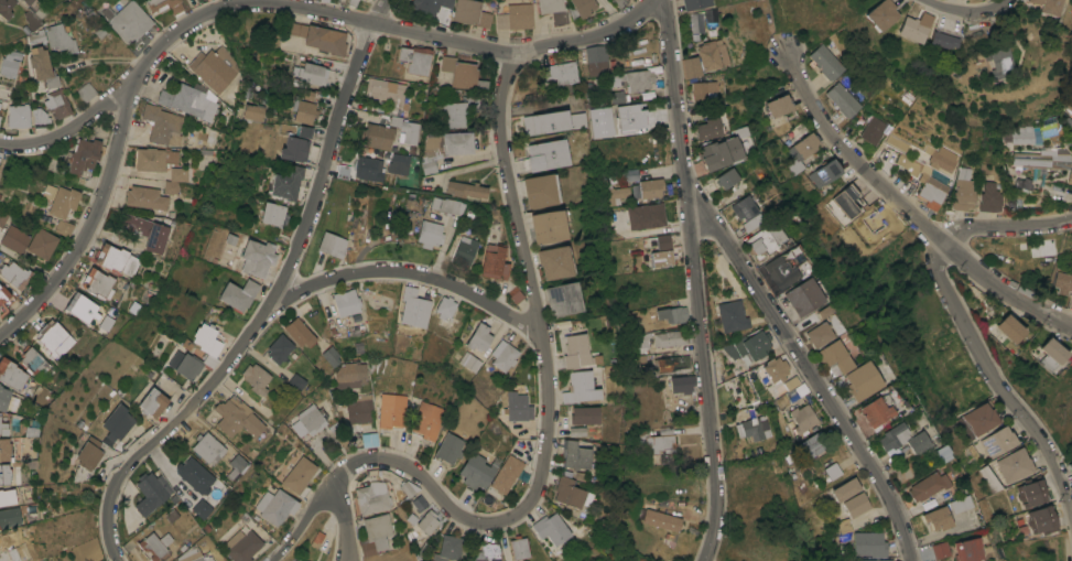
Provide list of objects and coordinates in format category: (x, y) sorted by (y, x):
building: (366, 0)
building: (25, 1)
building: (353, 2)
building: (694, 3)
building: (165, 4)
building: (1048, 6)
building: (429, 7)
building: (584, 7)
building: (6, 8)
building: (554, 10)
road: (970, 11)
road: (310, 12)
building: (472, 13)
building: (882, 14)
building: (516, 17)
building: (126, 20)
building: (31, 21)
building: (694, 23)
road: (787, 25)
building: (914, 26)
building: (36, 36)
building: (320, 37)
building: (59, 39)
building: (941, 39)
building: (710, 54)
building: (415, 60)
building: (596, 60)
building: (826, 62)
building: (1000, 62)
building: (10, 63)
building: (42, 66)
building: (690, 66)
building: (214, 68)
building: (459, 72)
building: (311, 73)
building: (562, 73)
building: (635, 79)
building: (704, 89)
building: (86, 91)
building: (388, 93)
building: (619, 96)
building: (843, 99)
building: (188, 101)
building: (56, 103)
building: (779, 105)
building: (304, 107)
building: (1070, 107)
building: (253, 111)
building: (458, 111)
building: (18, 116)
building: (39, 117)
building: (0, 118)
building: (578, 120)
building: (546, 122)
building: (162, 125)
building: (405, 129)
building: (707, 129)
building: (874, 130)
building: (303, 131)
building: (740, 131)
building: (1020, 134)
building: (377, 136)
building: (443, 148)
building: (294, 149)
building: (802, 151)
building: (718, 153)
building: (548, 154)
building: (84, 155)
building: (943, 158)
building: (154, 159)
building: (1042, 159)
building: (399, 163)
building: (910, 166)
building: (369, 169)
building: (825, 172)
building: (180, 174)
building: (629, 177)
building: (727, 177)
building: (1069, 179)
building: (288, 182)
building: (908, 184)
building: (1021, 184)
building: (171, 187)
building: (651, 187)
building: (465, 190)
building: (541, 190)
building: (963, 190)
building: (48, 191)
building: (932, 192)
building: (615, 194)
building: (147, 197)
building: (989, 197)
building: (847, 201)
building: (63, 202)
building: (447, 205)
building: (745, 207)
road: (909, 208)
building: (273, 214)
building: (643, 216)
building: (2, 217)
road: (88, 225)
building: (549, 226)
road: (1006, 226)
building: (64, 227)
building: (147, 231)
building: (430, 234)
building: (14, 238)
building: (230, 239)
building: (765, 240)
building: (663, 241)
building: (42, 244)
building: (332, 245)
building: (465, 250)
building: (257, 257)
building: (662, 258)
building: (117, 259)
building: (556, 261)
building: (494, 262)
road: (403, 270)
building: (780, 271)
building: (14, 274)
road: (695, 280)
building: (97, 282)
building: (1063, 282)
building: (424, 291)
building: (3, 294)
building: (238, 294)
building: (515, 294)
building: (803, 296)
building: (563, 299)
road: (269, 300)
building: (346, 302)
building: (444, 306)
building: (83, 308)
building: (411, 308)
building: (1, 310)
building: (824, 311)
building: (672, 314)
building: (732, 315)
building: (1011, 328)
building: (300, 332)
building: (819, 334)
building: (479, 337)
building: (671, 337)
building: (54, 338)
building: (206, 338)
building: (645, 339)
building: (358, 347)
building: (747, 347)
building: (279, 348)
building: (576, 350)
building: (1053, 354)
building: (503, 355)
building: (331, 356)
building: (835, 357)
building: (34, 360)
building: (208, 360)
building: (469, 362)
building: (673, 364)
building: (184, 365)
building: (647, 370)
building: (772, 370)
road: (811, 370)
building: (351, 374)
building: (12, 375)
building: (256, 378)
building: (863, 380)
building: (295, 382)
road: (997, 382)
building: (683, 384)
building: (580, 387)
building: (783, 387)
road: (546, 390)
building: (4, 398)
building: (153, 403)
building: (357, 407)
building: (517, 407)
building: (392, 411)
building: (879, 411)
building: (584, 414)
building: (238, 418)
building: (802, 418)
building: (311, 419)
building: (427, 420)
building: (978, 420)
building: (119, 422)
building: (3, 424)
building: (755, 428)
building: (31, 431)
building: (575, 431)
building: (369, 439)
building: (658, 439)
building: (894, 440)
building: (919, 442)
building: (998, 442)
building: (812, 445)
building: (207, 446)
building: (450, 449)
building: (4, 450)
building: (89, 453)
building: (940, 453)
building: (572, 454)
building: (237, 463)
building: (1015, 465)
building: (1070, 465)
building: (477, 471)
building: (832, 471)
building: (4, 474)
building: (195, 475)
building: (297, 475)
building: (989, 478)
building: (501, 482)
building: (407, 489)
building: (845, 489)
building: (929, 489)
building: (151, 490)
building: (567, 492)
building: (1030, 494)
building: (10, 496)
building: (373, 497)
building: (173, 498)
building: (262, 499)
building: (961, 504)
building: (856, 505)
building: (413, 506)
building: (279, 507)
building: (201, 509)
building: (171, 516)
building: (10, 517)
building: (242, 517)
road: (344, 517)
road: (305, 518)
building: (410, 518)
building: (936, 518)
building: (662, 520)
building: (1039, 520)
building: (427, 521)
building: (844, 526)
building: (551, 528)
building: (376, 535)
building: (165, 538)
building: (316, 539)
building: (870, 543)
building: (152, 546)
building: (242, 546)
building: (448, 548)
building: (519, 548)
building: (967, 549)
building: (940, 550)
road: (349, 552)
building: (488, 552)
building: (191, 554)
building: (206, 557)
building: (295, 559)
building: (876, 559)

